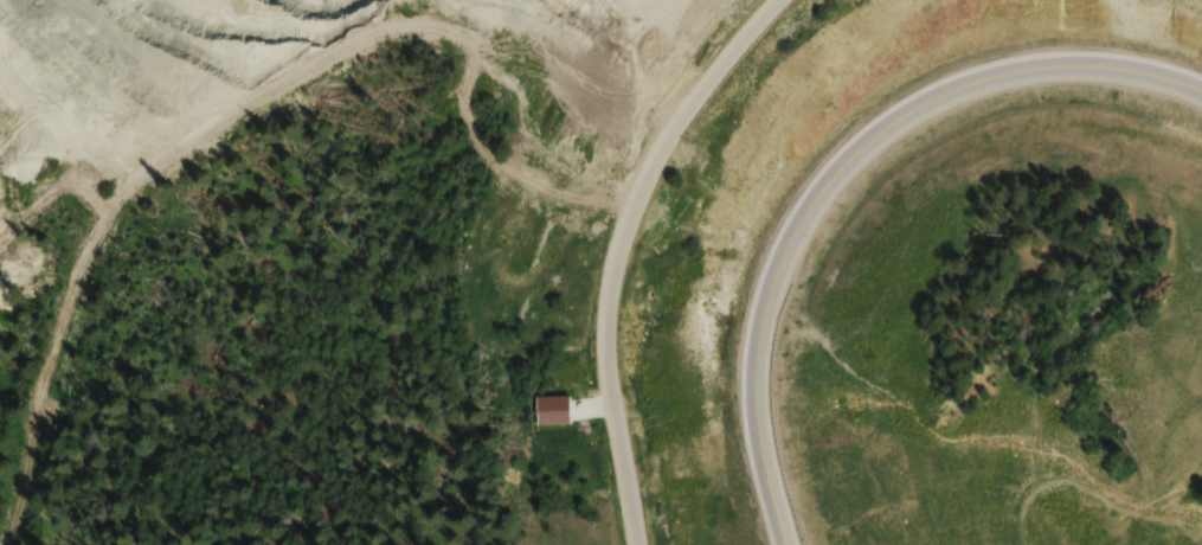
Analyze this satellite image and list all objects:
building: (645, 54)
road: (553, 56)
road: (835, 168)
building: (549, 411)

